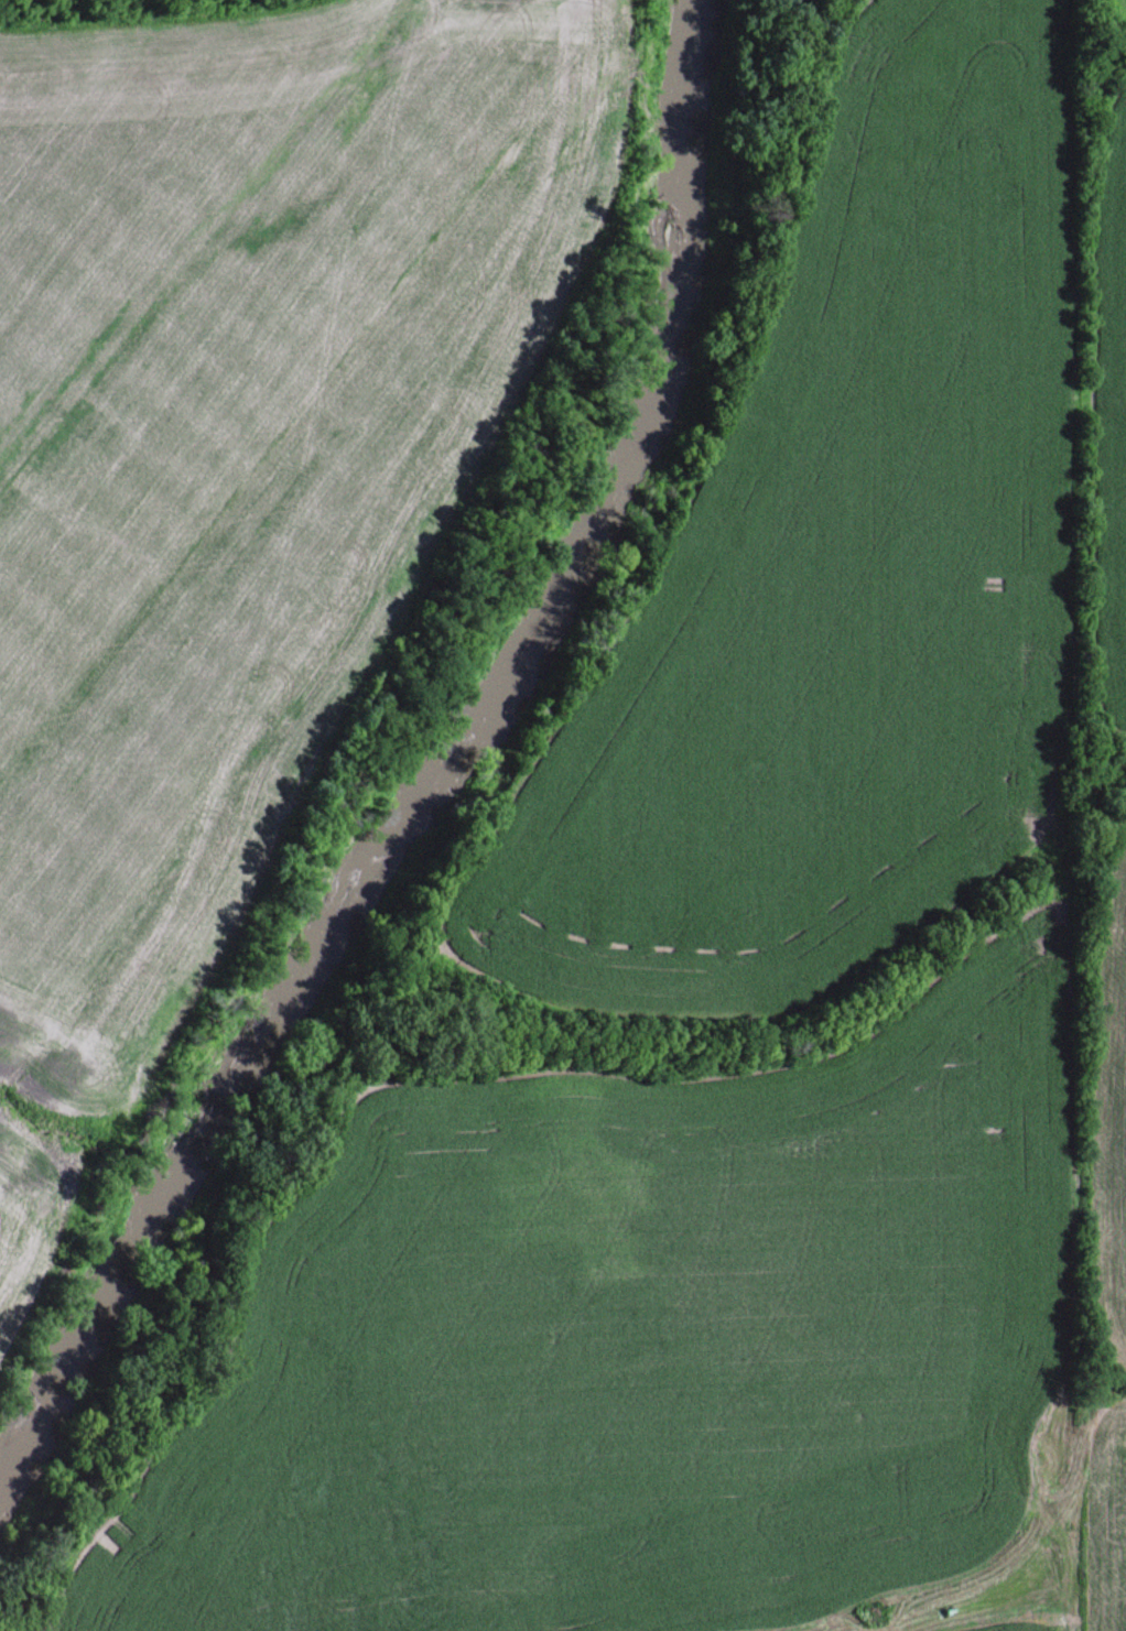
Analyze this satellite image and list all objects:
river: (439, 776)

